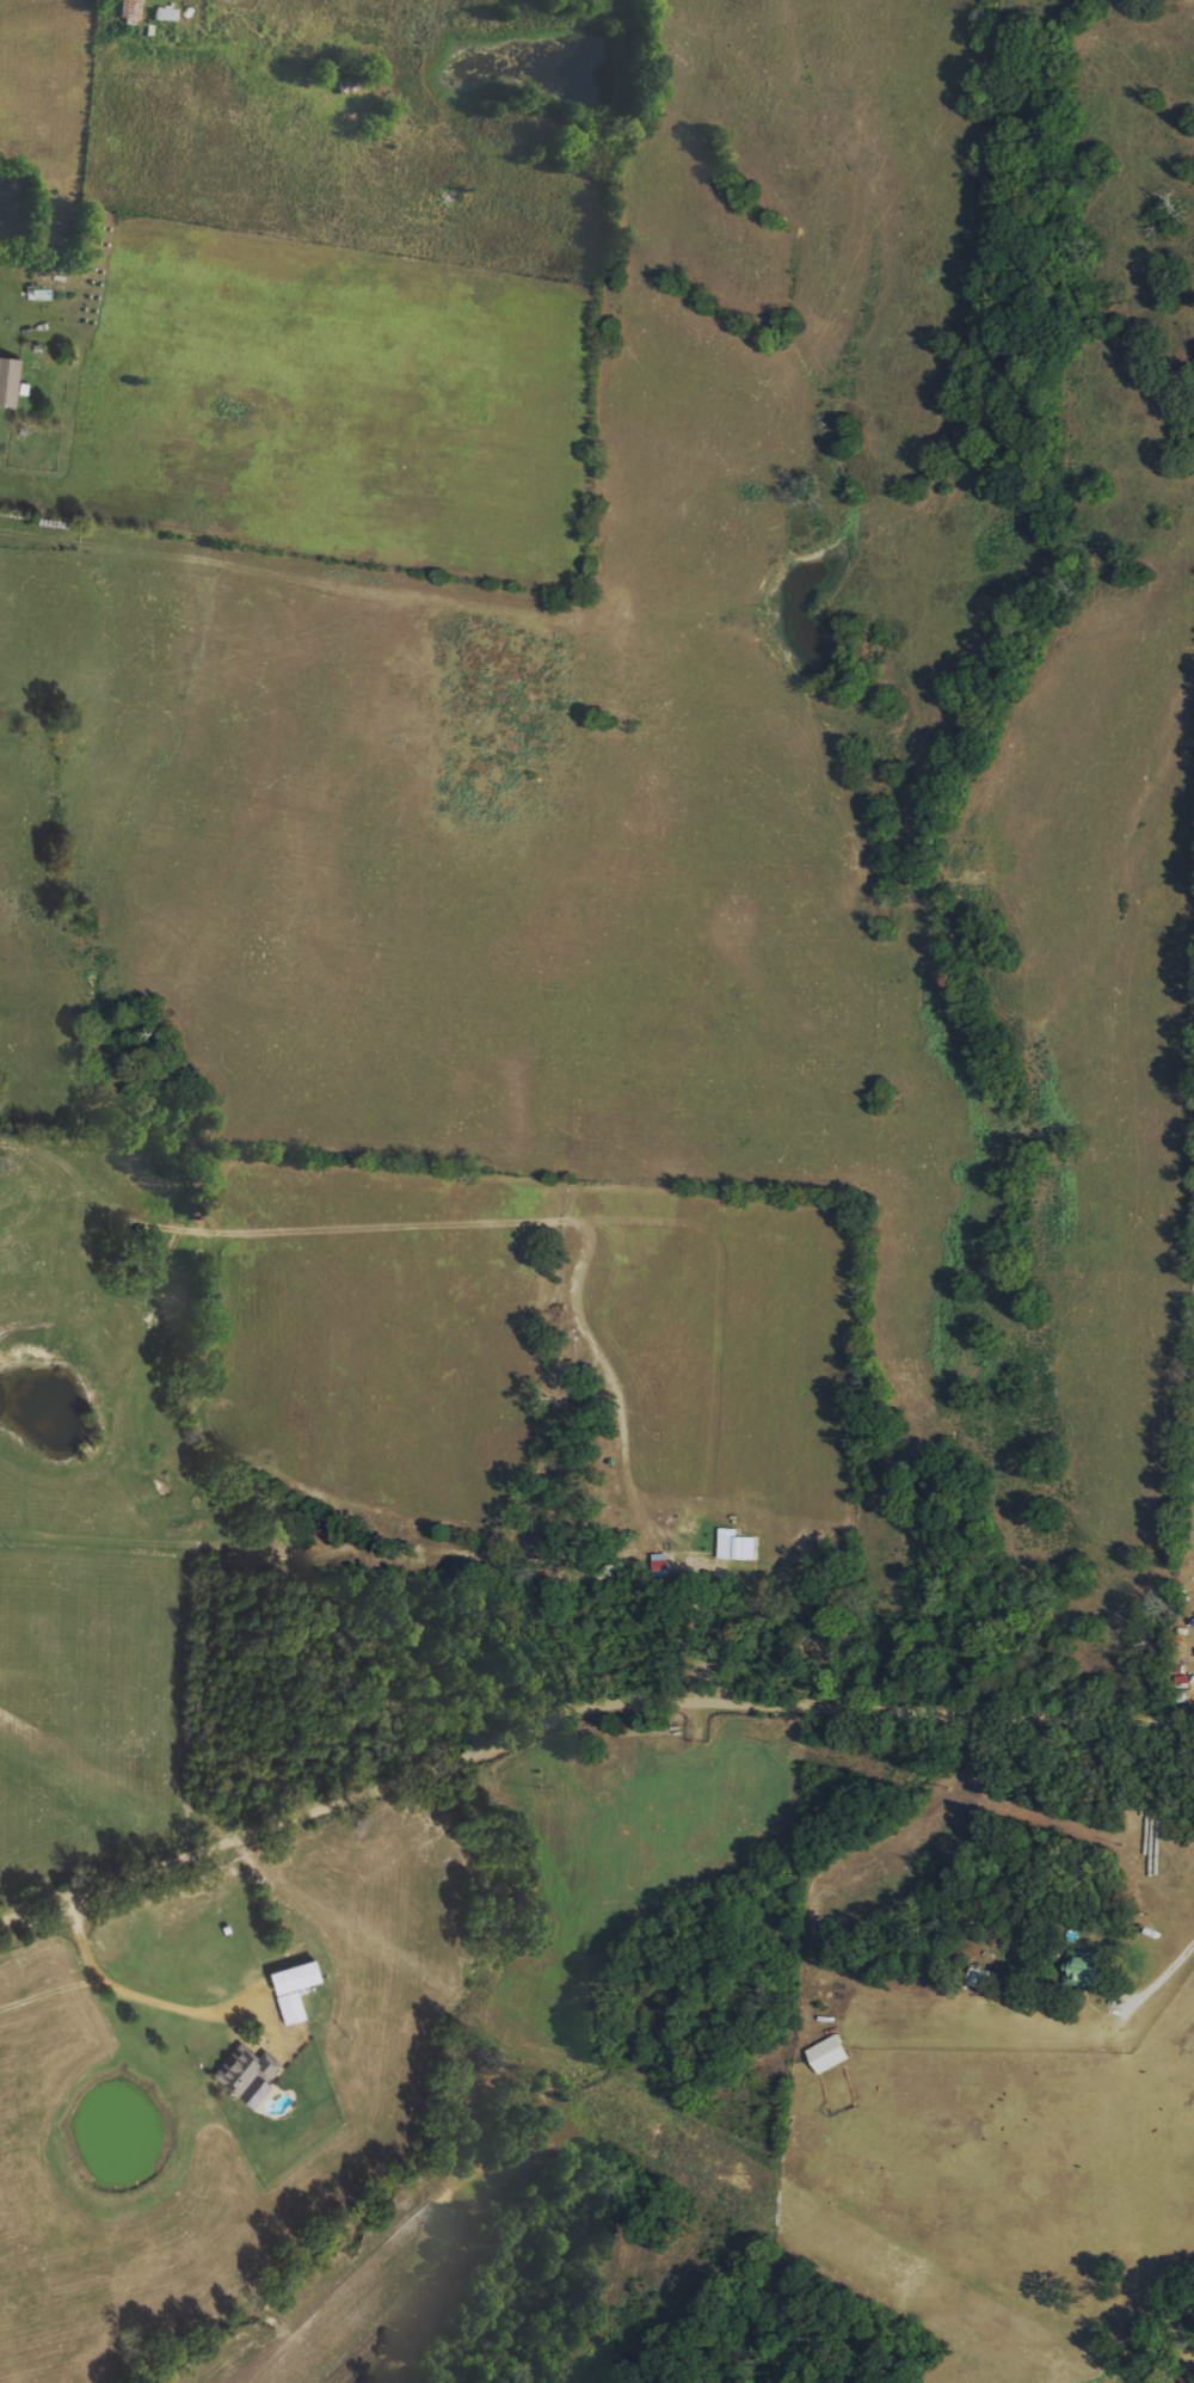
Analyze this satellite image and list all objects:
building: (162, 14)
building: (346, 85)
building: (10, 383)
building: (736, 1544)
road: (574, 1707)
road: (1177, 1970)
building: (1085, 1972)
building: (980, 1978)
building: (295, 1992)
road: (143, 1995)
building: (827, 2055)
building: (248, 2077)

